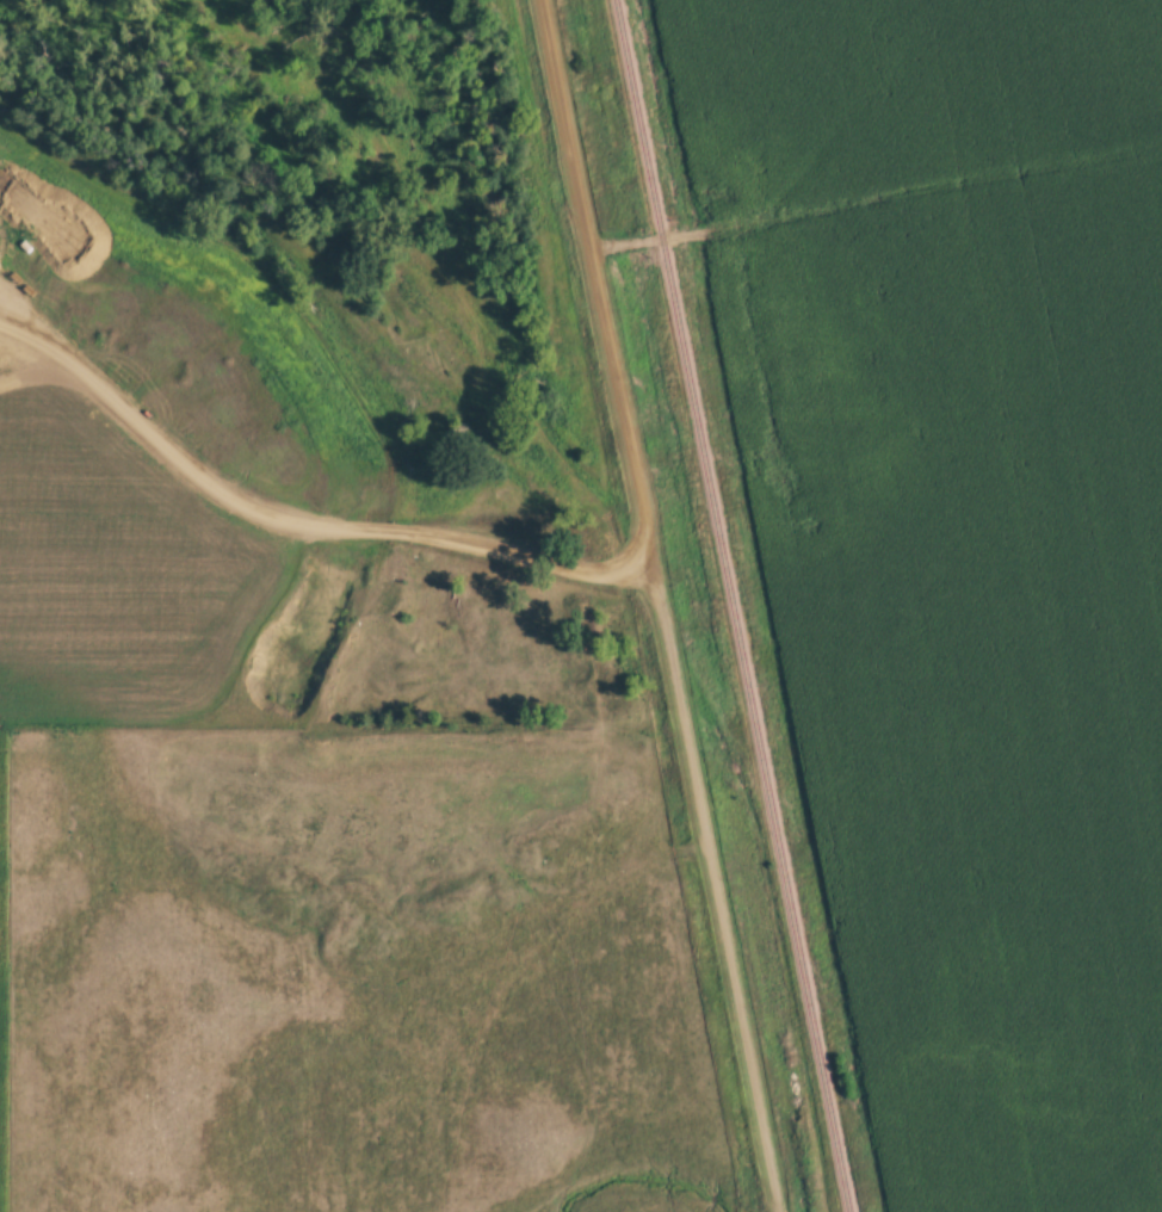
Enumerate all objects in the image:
road: (874, 197)
road: (289, 519)
railway: (733, 605)
road: (659, 606)

